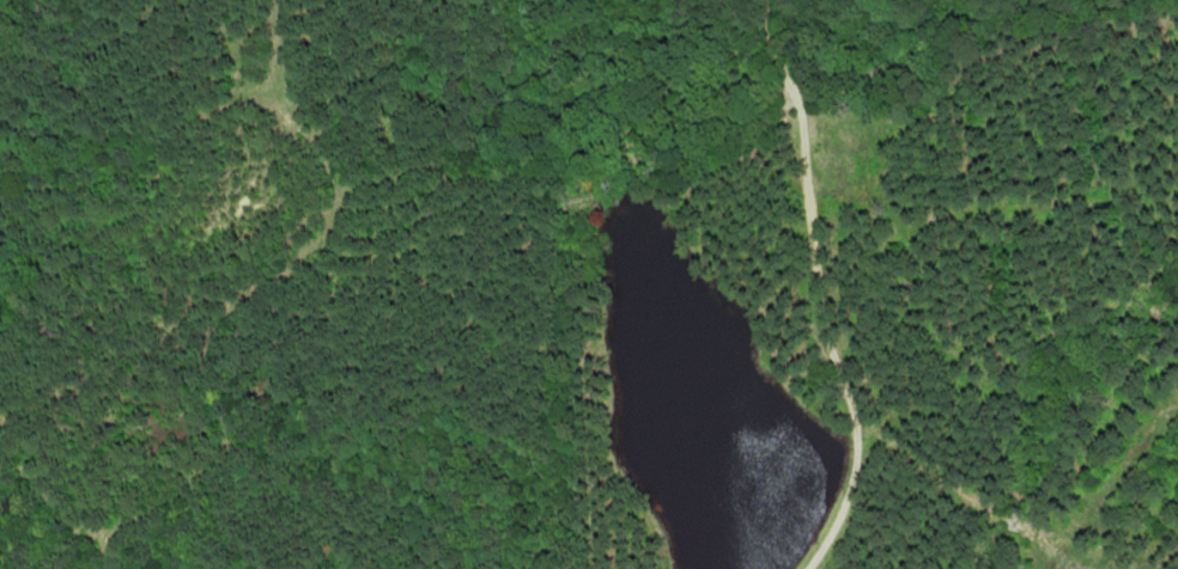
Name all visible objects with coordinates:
road: (796, 50)

